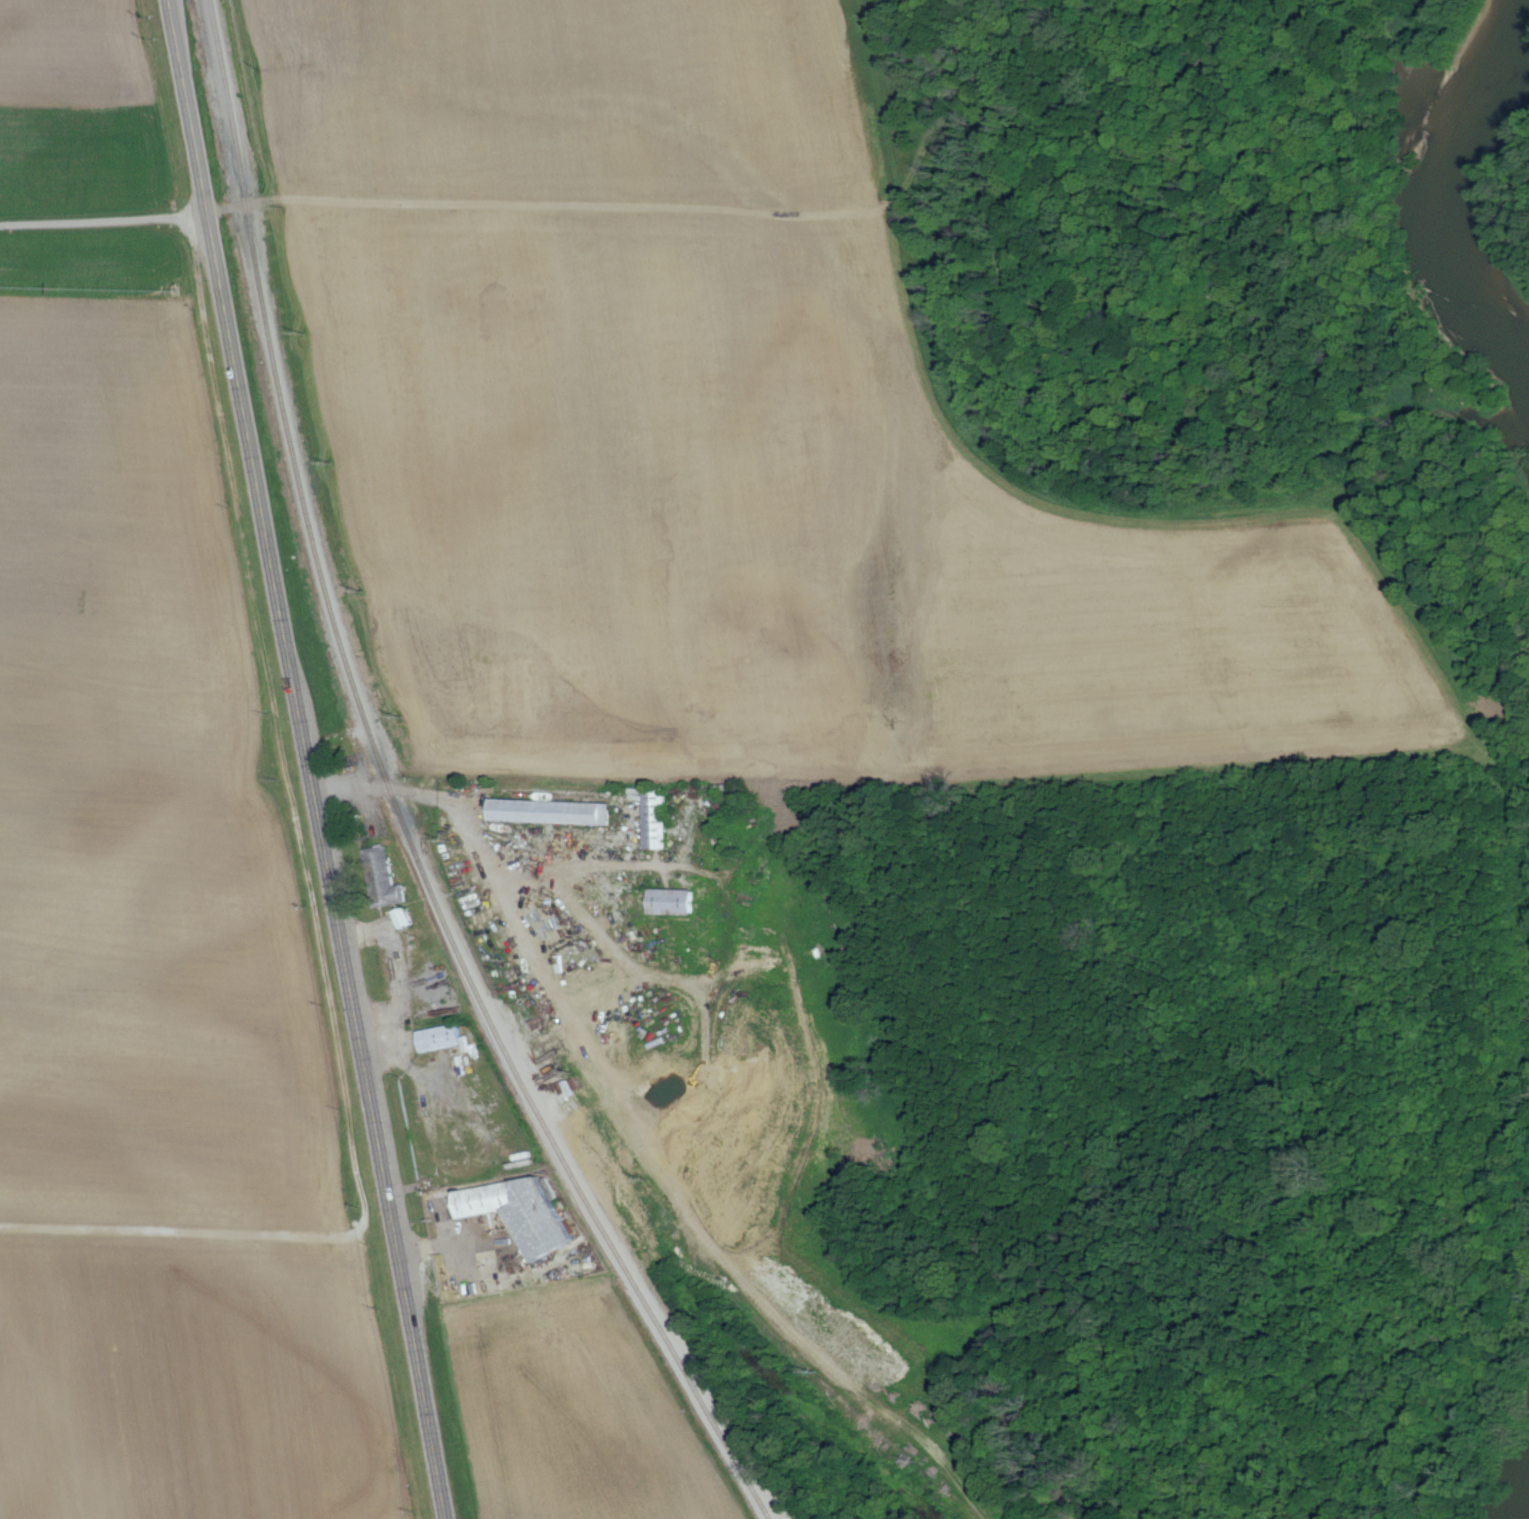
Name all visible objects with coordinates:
river: (1428, 163)
road: (104, 222)
road: (308, 759)
railway: (392, 794)
building: (551, 811)
building: (657, 819)
road: (499, 854)
building: (386, 878)
road: (312, 901)
building: (673, 902)
building: (404, 918)
building: (440, 1038)
building: (522, 1212)
road: (453, 1241)

